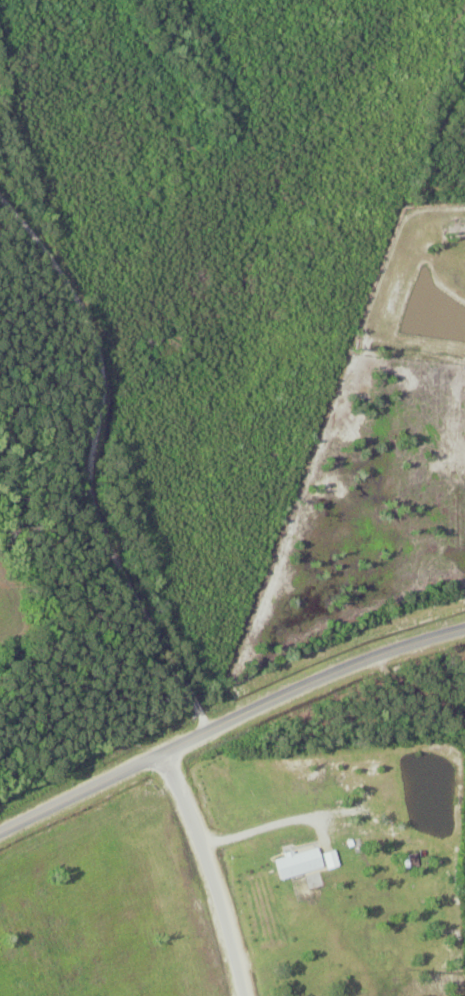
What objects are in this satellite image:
road: (93, 393)
road: (227, 712)
road: (227, 864)

